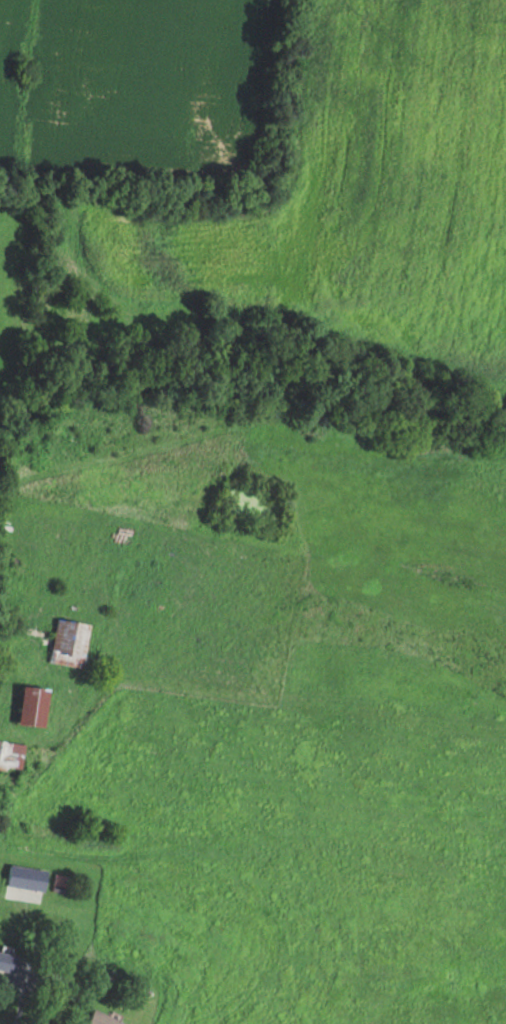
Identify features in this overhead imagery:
building: (72, 642)
building: (37, 706)
building: (9, 752)
building: (10, 962)
building: (105, 1018)

